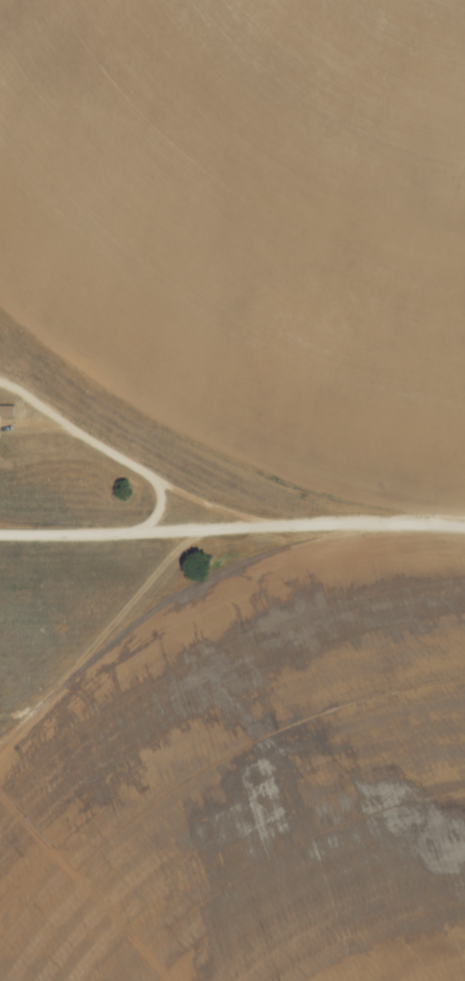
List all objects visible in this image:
road: (221, 483)
road: (160, 530)

